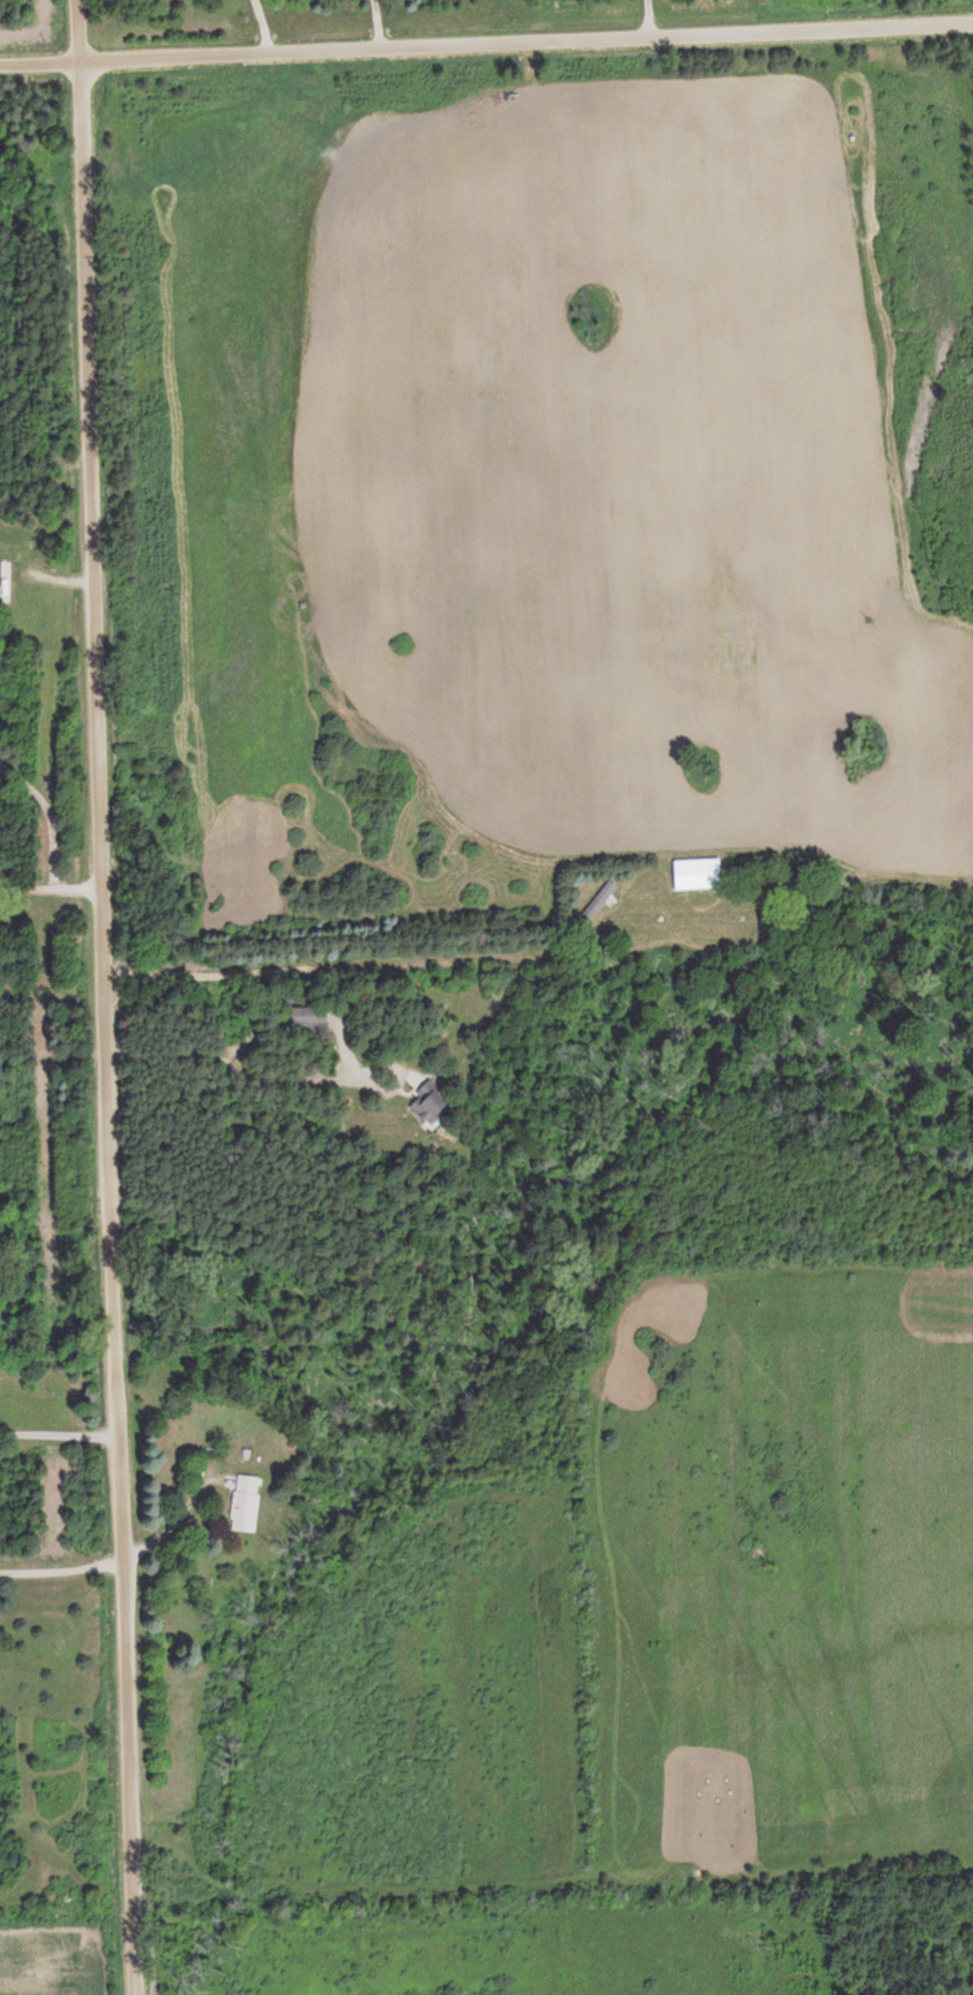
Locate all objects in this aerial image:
road: (486, 45)
building: (7, 581)
road: (402, 838)
building: (0, 859)
building: (699, 874)
road: (101, 997)
building: (313, 1019)
building: (433, 1103)
building: (249, 1504)

